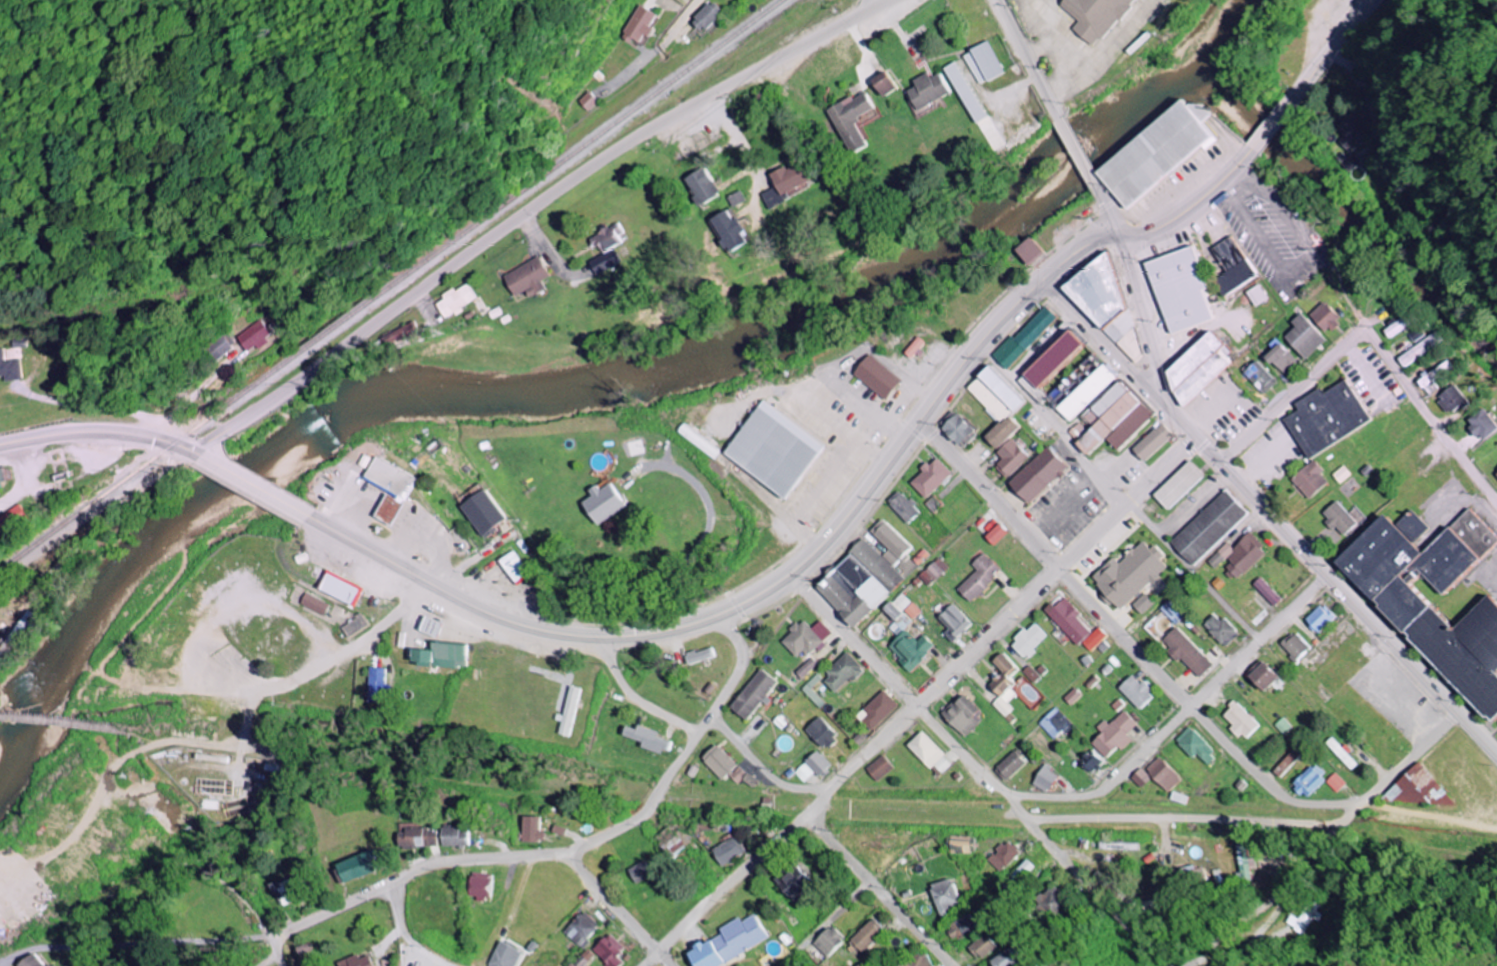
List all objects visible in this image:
road: (884, 0)
building: (703, 16)
building: (1099, 16)
road: (677, 22)
building: (635, 25)
road: (1030, 59)
building: (986, 63)
road: (626, 70)
building: (884, 84)
building: (929, 90)
building: (585, 101)
building: (976, 106)
building: (852, 121)
building: (1351, 131)
road: (1261, 139)
road: (1080, 151)
building: (1159, 152)
building: (1351, 161)
building: (792, 181)
building: (702, 187)
building: (773, 198)
road: (529, 208)
road: (1110, 211)
building: (730, 232)
building: (609, 238)
building: (1032, 251)
building: (607, 262)
building: (1233, 266)
building: (529, 279)
railway: (392, 287)
building: (1182, 288)
building: (1258, 295)
building: (457, 302)
building: (1107, 304)
building: (1326, 316)
road: (1142, 318)
building: (1401, 326)
building: (257, 336)
building: (401, 336)
building: (1305, 336)
building: (1025, 339)
road: (1102, 339)
building: (917, 347)
building: (224, 348)
building: (1422, 349)
road: (98, 354)
building: (1282, 358)
building: (1051, 365)
building: (1199, 367)
building: (11, 368)
building: (879, 376)
building: (1435, 376)
building: (1261, 377)
river: (577, 386)
building: (1088, 392)
building: (996, 394)
road: (1292, 395)
building: (1452, 400)
road: (1429, 414)
building: (1327, 418)
building: (1112, 420)
road: (1054, 423)
building: (1483, 424)
building: (958, 429)
building: (1002, 432)
road: (102, 433)
building: (1154, 442)
building: (776, 449)
building: (1011, 458)
road: (884, 469)
building: (1496, 472)
building: (1342, 474)
building: (1038, 475)
building: (389, 476)
building: (2, 478)
building: (931, 478)
building: (1310, 479)
road: (257, 485)
building: (1179, 485)
building: (0, 494)
building: (601, 503)
building: (903, 507)
building: (390, 510)
gas station: (390, 510)
building: (482, 513)
building: (1339, 518)
building: (13, 520)
road: (707, 521)
building: (1209, 528)
building: (996, 535)
road: (1238, 541)
building: (1239, 556)
road: (1308, 556)
road: (1201, 562)
building: (512, 566)
building: (932, 572)
building: (1129, 574)
building: (979, 577)
building: (858, 583)
building: (340, 588)
building: (1266, 592)
road: (451, 595)
building: (313, 604)
building: (1142, 604)
building: (911, 611)
building: (897, 613)
building: (1414, 616)
building: (1320, 618)
building: (1067, 620)
building: (952, 622)
building: (352, 626)
building: (429, 626)
building: (1219, 630)
building: (18, 633)
building: (803, 638)
building: (1093, 639)
road: (1125, 639)
building: (1027, 640)
building: (1293, 647)
building: (909, 650)
building: (1185, 652)
building: (437, 656)
building: (696, 656)
road: (320, 663)
building: (804, 668)
building: (840, 672)
building: (1032, 673)
building: (1260, 675)
building: (1002, 684)
building: (371, 685)
building: (811, 691)
building: (1135, 692)
building: (750, 695)
building: (1071, 696)
road: (1334, 698)
road: (633, 699)
road: (919, 703)
building: (874, 711)
building: (565, 712)
building: (960, 716)
road: (1175, 719)
building: (1238, 721)
railway: (62, 723)
building: (1052, 723)
building: (1281, 726)
road: (1476, 732)
building: (818, 733)
building: (1112, 734)
building: (642, 739)
building: (1270, 743)
building: (1193, 747)
building: (925, 753)
building: (1341, 754)
building: (714, 762)
building: (1087, 762)
building: (1284, 763)
building: (814, 764)
building: (1007, 765)
road: (756, 766)
building: (875, 768)
road: (974, 770)
building: (800, 773)
building: (1160, 774)
building: (738, 777)
building: (1138, 778)
building: (1042, 779)
building: (1307, 781)
building: (1333, 782)
building: (1418, 790)
building: (528, 830)
building: (453, 837)
building: (416, 838)
building: (668, 843)
road: (1322, 843)
road: (578, 844)
building: (957, 844)
building: (1115, 846)
building: (725, 851)
building: (1000, 856)
road: (158, 861)
building: (1238, 865)
building: (355, 867)
building: (636, 872)
building: (1186, 874)
building: (793, 883)
building: (478, 886)
road: (874, 890)
building: (283, 892)
building: (944, 897)
building: (1049, 901)
road: (613, 909)
building: (1295, 917)
building: (959, 928)
building: (577, 929)
road: (404, 933)
building: (864, 936)
road: (269, 941)
building: (826, 942)
building: (728, 943)
building: (979, 947)
building: (604, 951)
building: (502, 956)
building: (579, 959)
building: (1004, 959)
building: (24, 961)
building: (354, 961)
building: (914, 962)
building: (42, 965)

